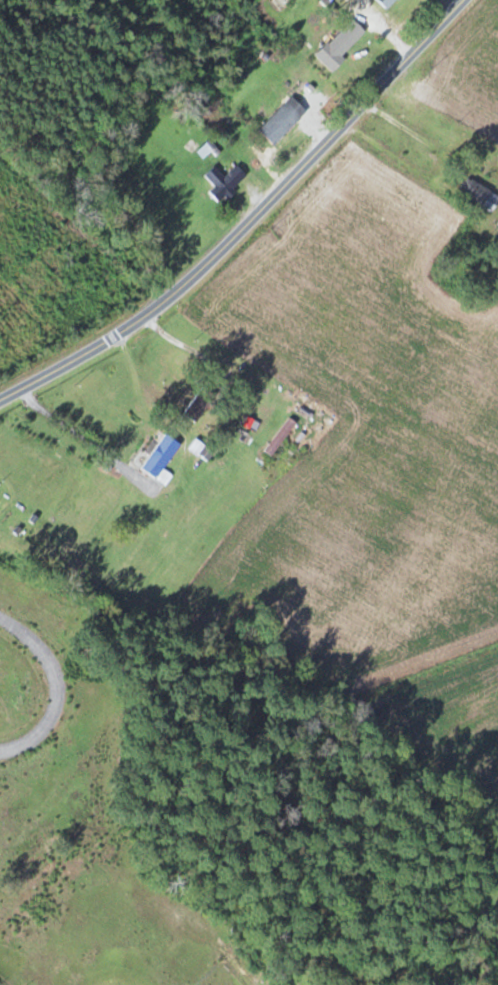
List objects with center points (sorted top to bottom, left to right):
building: (387, 3)
building: (342, 44)
building: (283, 121)
building: (225, 182)
building: (476, 191)
road: (247, 221)
building: (200, 404)
building: (282, 437)
building: (162, 459)

